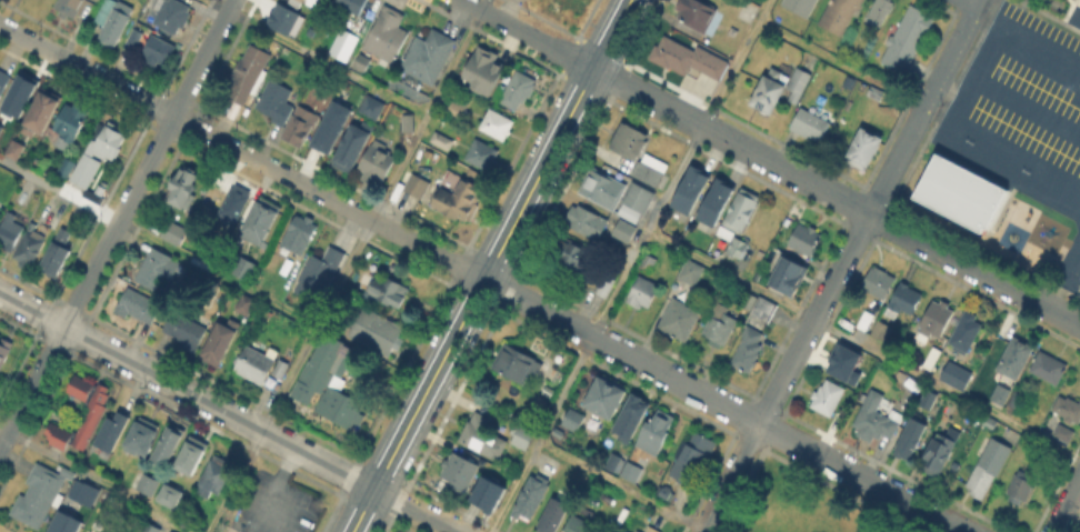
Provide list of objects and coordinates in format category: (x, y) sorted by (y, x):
building: (581, 0)
building: (1079, 0)
road: (976, 1)
building: (297, 2)
building: (801, 6)
building: (69, 7)
building: (349, 8)
building: (881, 11)
building: (172, 14)
building: (840, 14)
building: (699, 17)
building: (112, 19)
building: (282, 19)
building: (296, 26)
building: (388, 34)
road: (1027, 36)
building: (908, 39)
building: (344, 44)
building: (150, 46)
building: (428, 56)
road: (318, 57)
building: (688, 60)
building: (362, 62)
building: (482, 62)
road: (840, 64)
building: (248, 74)
building: (3, 79)
building: (850, 82)
road: (1006, 87)
building: (519, 88)
building: (482, 89)
building: (779, 89)
parking lot: (1032, 91)
building: (876, 93)
building: (13, 97)
building: (278, 101)
road: (1067, 103)
building: (459, 106)
building: (372, 107)
road: (1047, 108)
building: (43, 111)
building: (408, 122)
building: (70, 123)
building: (498, 123)
building: (810, 126)
building: (301, 127)
building: (0, 128)
building: (332, 128)
road: (966, 128)
building: (626, 139)
building: (442, 140)
building: (111, 142)
building: (354, 144)
building: (17, 149)
building: (864, 149)
building: (482, 154)
road: (1069, 154)
road: (771, 161)
building: (377, 162)
building: (80, 169)
building: (644, 172)
building: (417, 184)
building: (182, 187)
building: (602, 188)
building: (688, 188)
building: (962, 195)
building: (639, 199)
building: (460, 200)
building: (712, 200)
building: (234, 203)
building: (262, 220)
building: (587, 221)
building: (738, 222)
road: (117, 223)
building: (10, 228)
building: (624, 231)
building: (173, 232)
building: (300, 234)
building: (804, 240)
road: (158, 241)
building: (30, 247)
building: (58, 252)
building: (572, 253)
road: (628, 264)
building: (647, 264)
road: (347, 265)
road: (491, 265)
road: (841, 265)
building: (159, 268)
building: (246, 268)
building: (691, 273)
building: (319, 274)
building: (789, 277)
road: (483, 278)
building: (879, 283)
building: (606, 284)
building: (389, 288)
building: (642, 294)
building: (904, 302)
building: (247, 303)
building: (140, 307)
building: (679, 321)
building: (866, 321)
building: (937, 322)
building: (719, 328)
building: (186, 330)
building: (881, 331)
building: (378, 332)
building: (966, 334)
building: (752, 337)
building: (222, 342)
road: (862, 345)
building: (3, 349)
building: (931, 359)
building: (1016, 359)
building: (842, 362)
building: (517, 363)
building: (256, 364)
building: (278, 368)
building: (1049, 369)
building: (953, 374)
building: (330, 384)
building: (997, 392)
building: (606, 397)
building: (828, 399)
building: (929, 400)
building: (1017, 401)
building: (573, 411)
building: (1069, 411)
road: (227, 412)
building: (94, 414)
building: (631, 416)
building: (876, 420)
building: (112, 430)
building: (481, 432)
building: (656, 432)
building: (1064, 434)
building: (141, 435)
building: (522, 435)
building: (911, 441)
building: (169, 443)
building: (191, 454)
building: (938, 454)
building: (612, 460)
building: (692, 461)
building: (989, 469)
building: (460, 470)
building: (631, 472)
building: (214, 475)
road: (99, 480)
building: (149, 484)
building: (1017, 485)
road: (273, 486)
road: (620, 486)
building: (82, 491)
building: (40, 493)
building: (666, 493)
building: (481, 494)
building: (531, 494)
building: (170, 495)
park: (802, 505)
road: (1066, 505)
building: (642, 514)
building: (553, 515)
building: (621, 519)
building: (64, 522)
building: (579, 525)
building: (150, 528)
building: (634, 530)
building: (651, 530)
building: (94, 531)
building: (97, 531)
building: (169, 531)

